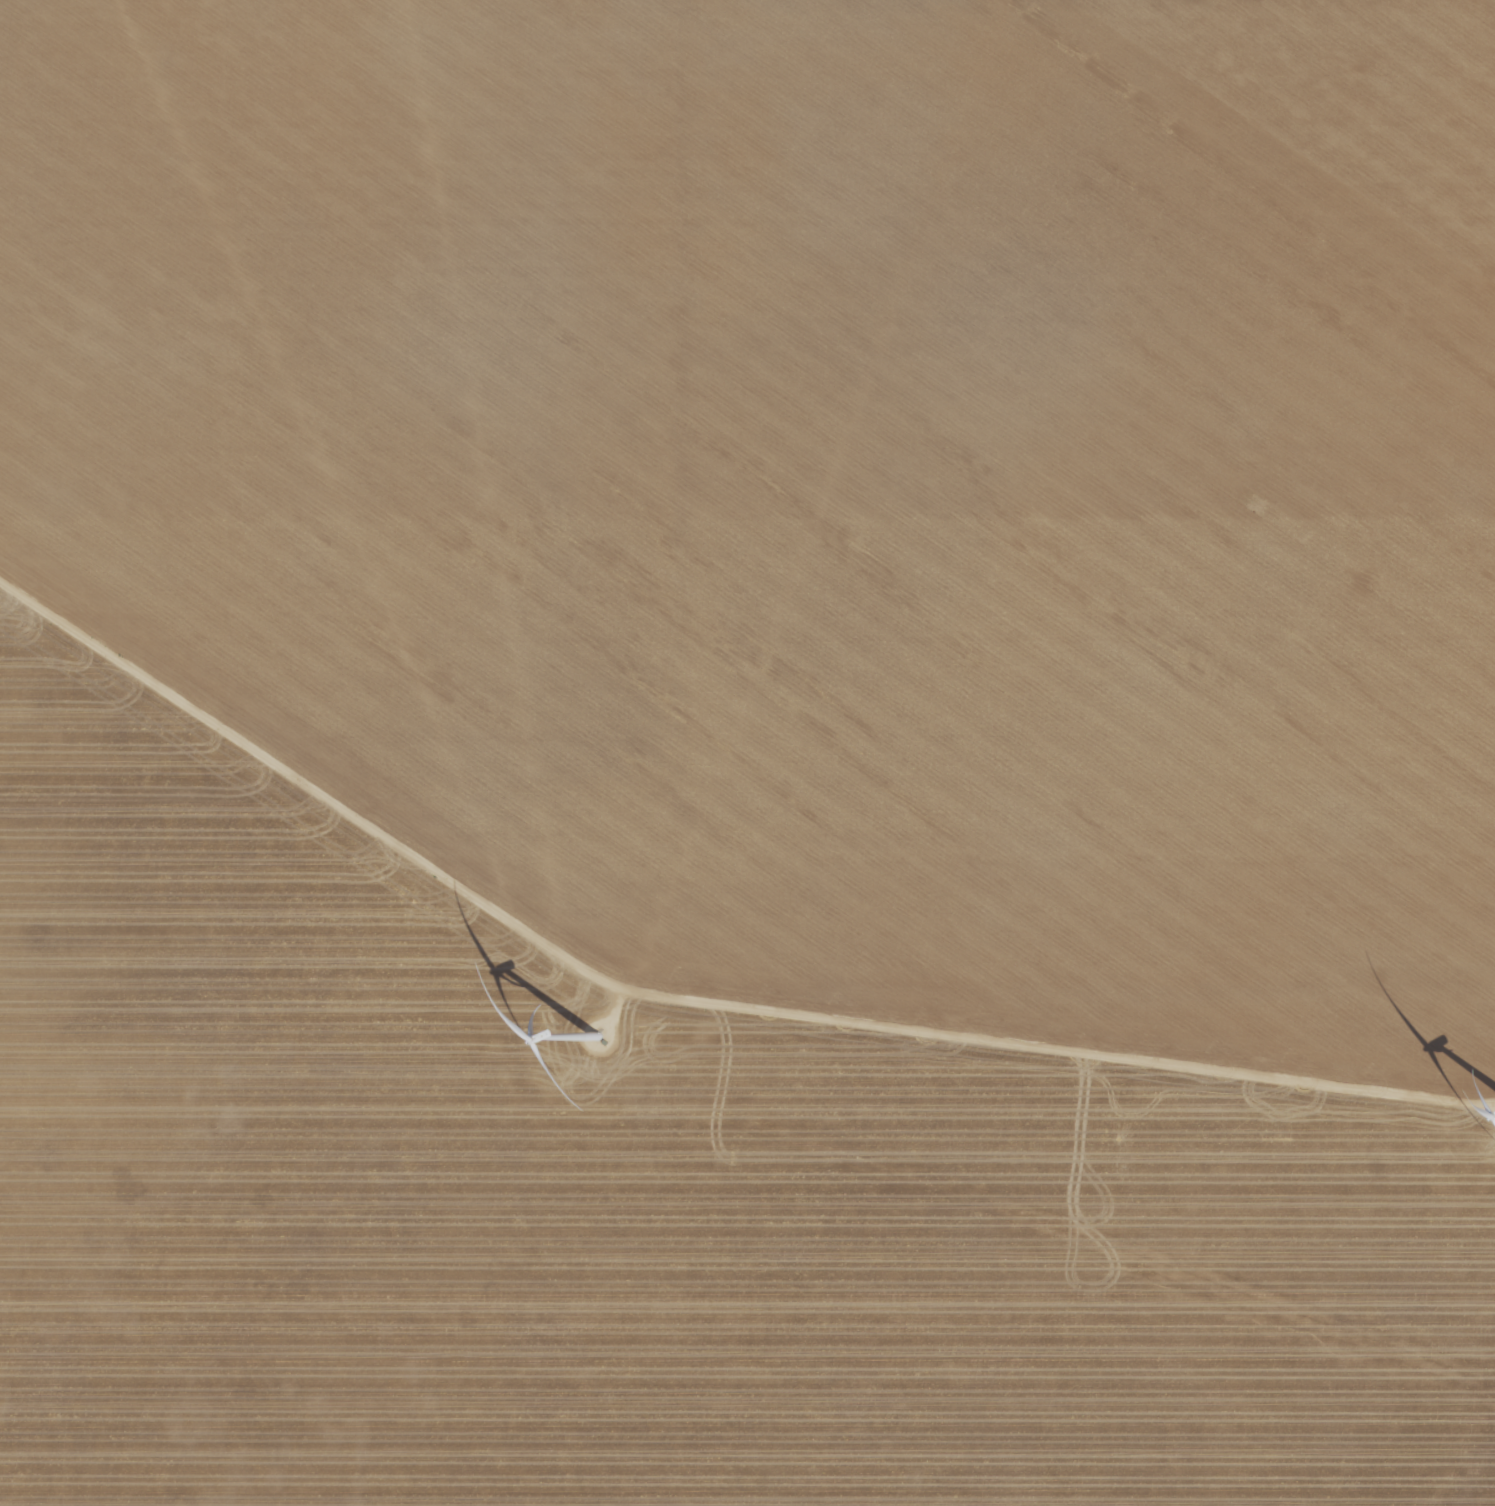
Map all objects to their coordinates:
wind turbine: (593, 1037)

